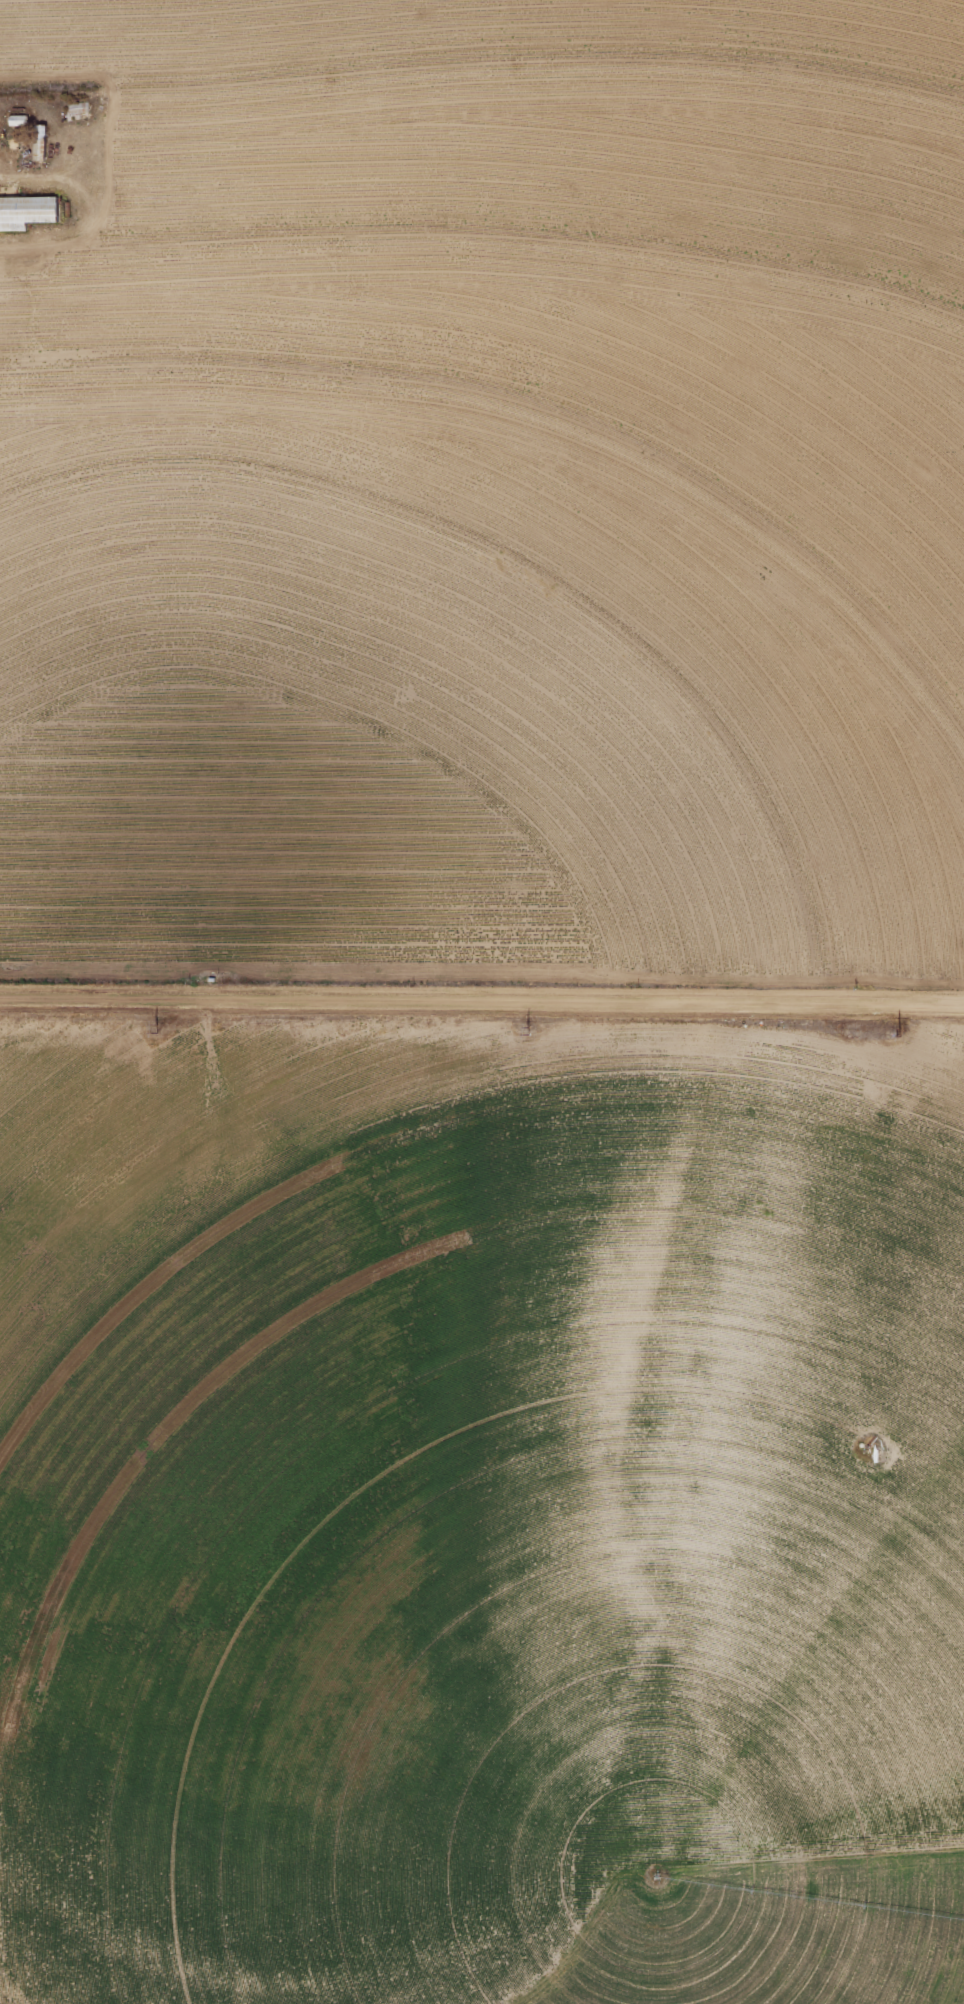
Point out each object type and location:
building: (30, 216)
road: (482, 1002)
power tower: (151, 1023)
power tower: (895, 1026)
power tower: (526, 1029)

